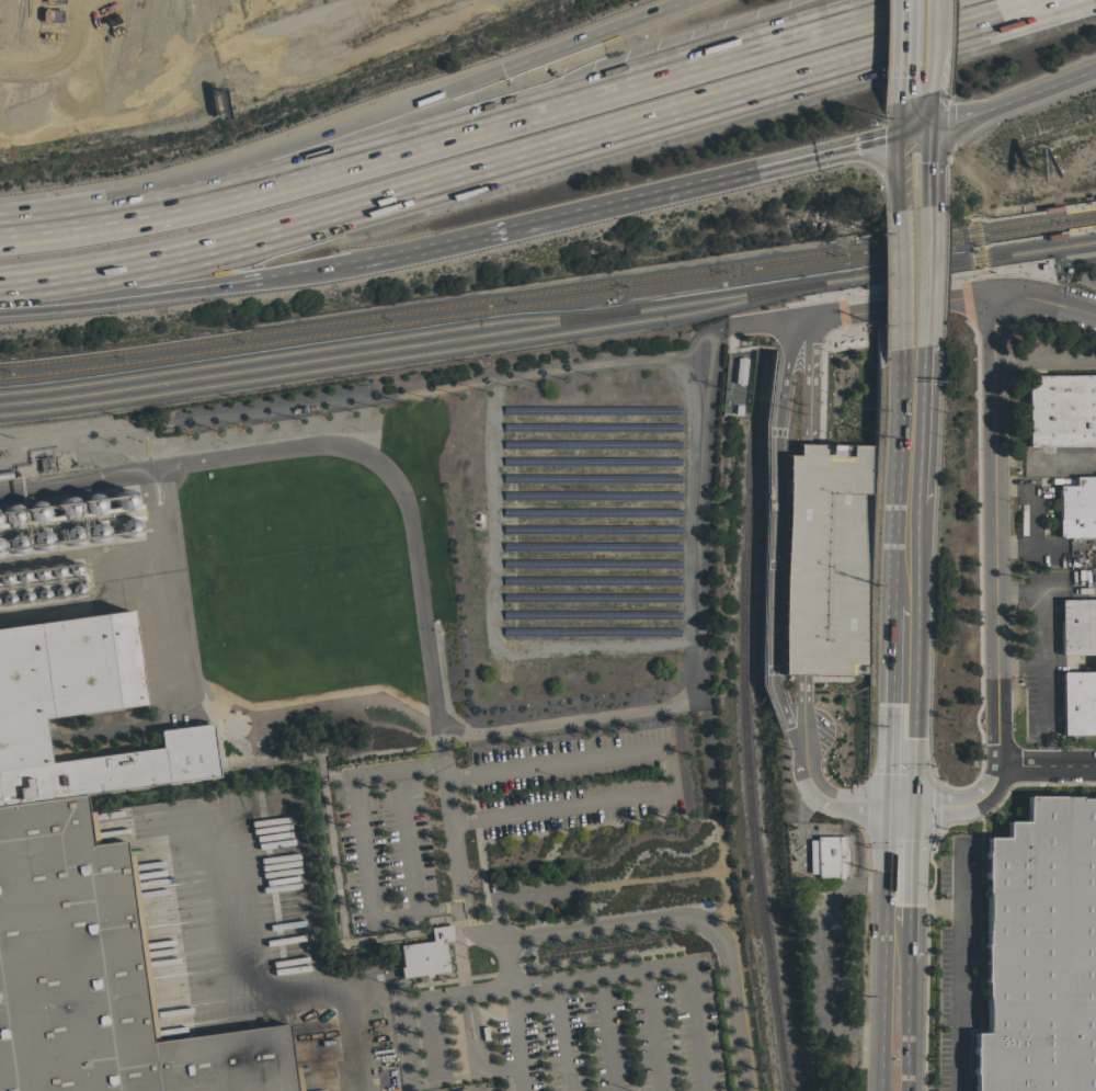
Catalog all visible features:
road: (847, 12)
road: (931, 13)
road: (591, 34)
landfill: (178, 36)
road: (903, 49)
road: (929, 60)
road: (1012, 99)
road: (927, 111)
road: (902, 117)
road: (456, 132)
road: (914, 132)
road: (299, 145)
road: (538, 152)
road: (827, 152)
road: (927, 168)
road: (900, 172)
railway: (1061, 206)
road: (551, 218)
railway: (1064, 230)
railway: (957, 261)
road: (926, 276)
road: (898, 279)
road: (174, 292)
railway: (548, 292)
railway: (548, 298)
road: (1043, 298)
road: (899, 303)
railway: (409, 343)
railway: (308, 350)
railway: (410, 355)
road: (1043, 363)
building: (1061, 409)
road: (921, 436)
road: (1044, 465)
road: (894, 476)
building: (123, 498)
building: (90, 503)
building: (66, 507)
building: (1077, 508)
building: (34, 511)
building: (10, 515)
road: (1031, 518)
road: (993, 526)
building: (126, 527)
building: (94, 532)
building: (71, 535)
road: (773, 537)
road: (807, 538)
building: (38, 539)
building: (13, 543)
building: (0, 547)
parking lot: (829, 560)
road: (1068, 590)
road: (1039, 605)
building: (1077, 626)
road: (891, 628)
building: (962, 648)
road: (1018, 664)
road: (911, 667)
building: (1078, 702)
road: (1041, 713)
railway: (746, 720)
road: (889, 728)
road: (476, 739)
road: (1047, 762)
road: (670, 771)
road: (832, 799)
road: (967, 805)
road: (899, 806)
road: (358, 833)
road: (453, 846)
building: (825, 856)
road: (909, 866)
road: (852, 886)
building: (91, 888)
road: (933, 908)
road: (444, 911)
road: (669, 921)
road: (909, 945)
road: (884, 947)
building: (1040, 952)
building: (425, 954)
road: (957, 965)
road: (558, 981)
road: (825, 991)
road: (264, 992)
road: (696, 1027)
road: (909, 1027)
parking lot: (576, 1030)
road: (651, 1030)
road: (605, 1033)
road: (475, 1034)
road: (562, 1036)
road: (517, 1039)
road: (433, 1041)

